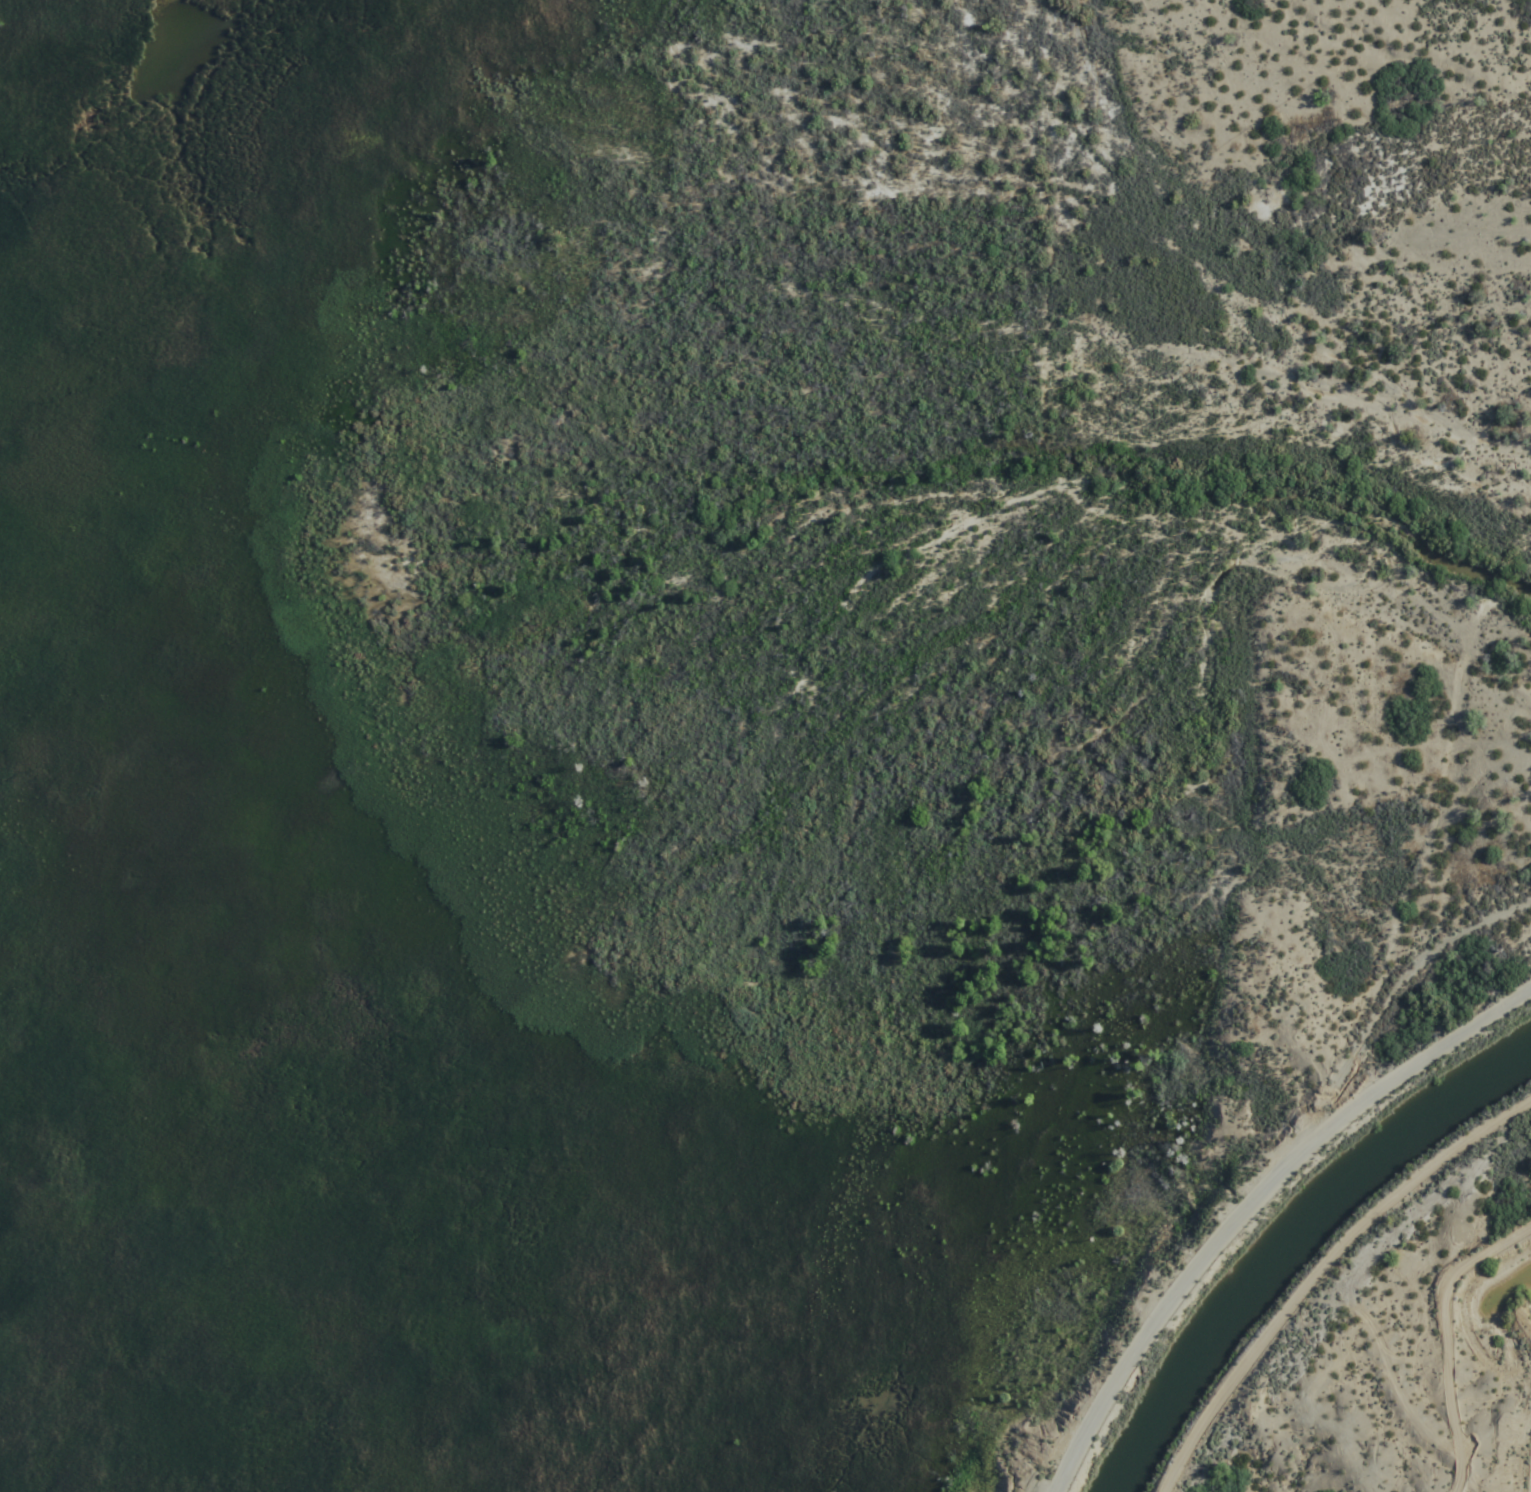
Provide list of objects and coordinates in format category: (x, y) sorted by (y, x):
road: (1254, 1204)
river: (1293, 1242)

